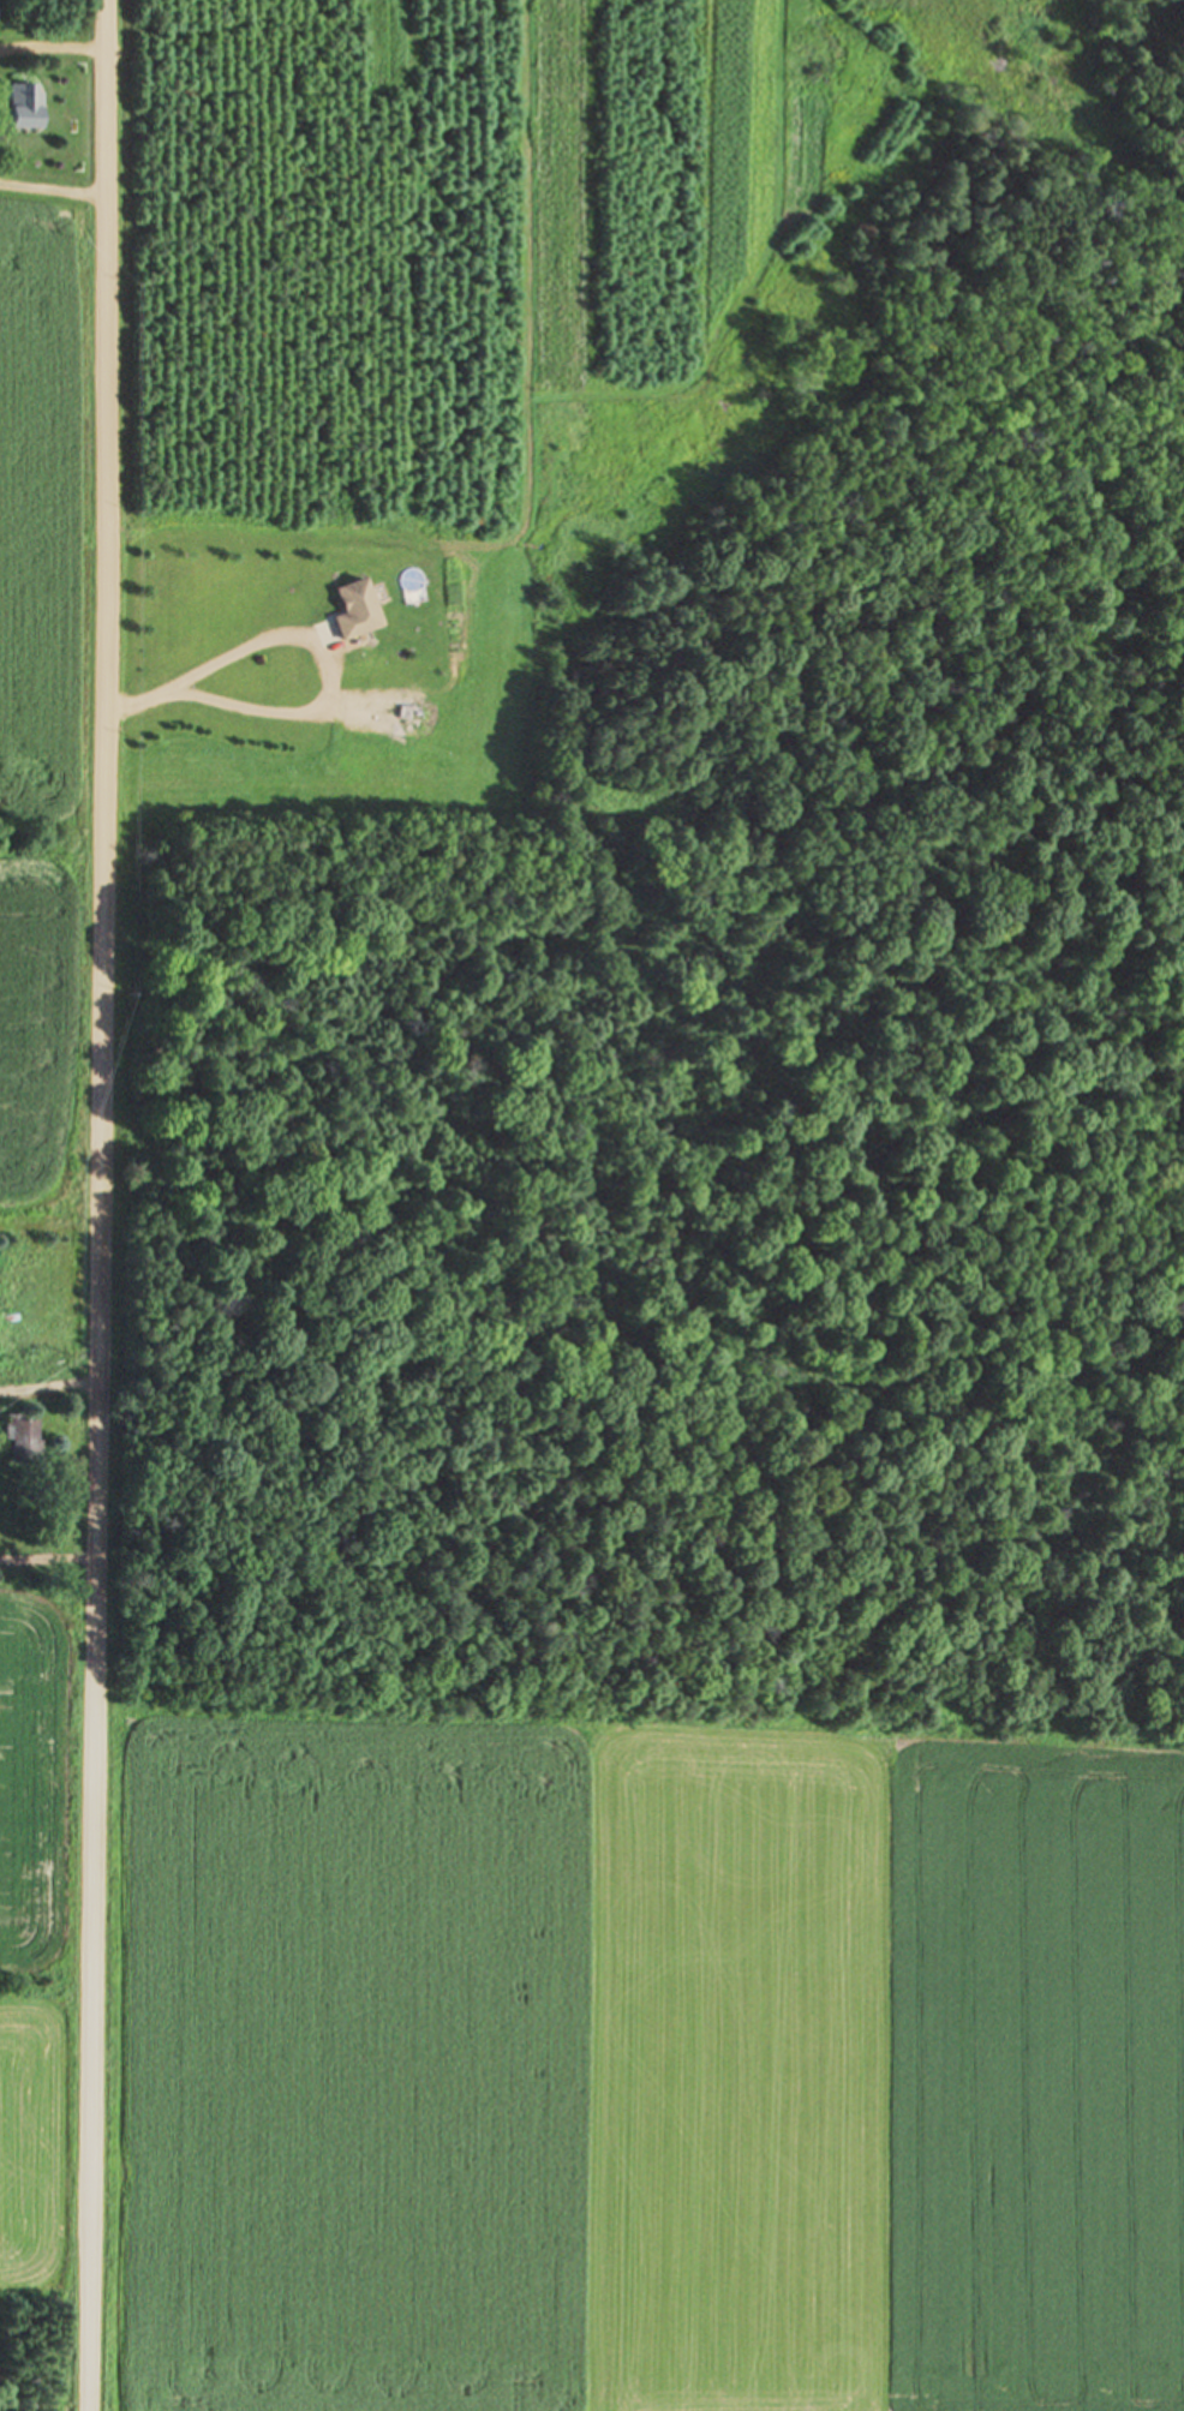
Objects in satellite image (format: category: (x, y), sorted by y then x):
building: (24, 108)
building: (353, 611)
road: (94, 1205)
building: (23, 1443)

